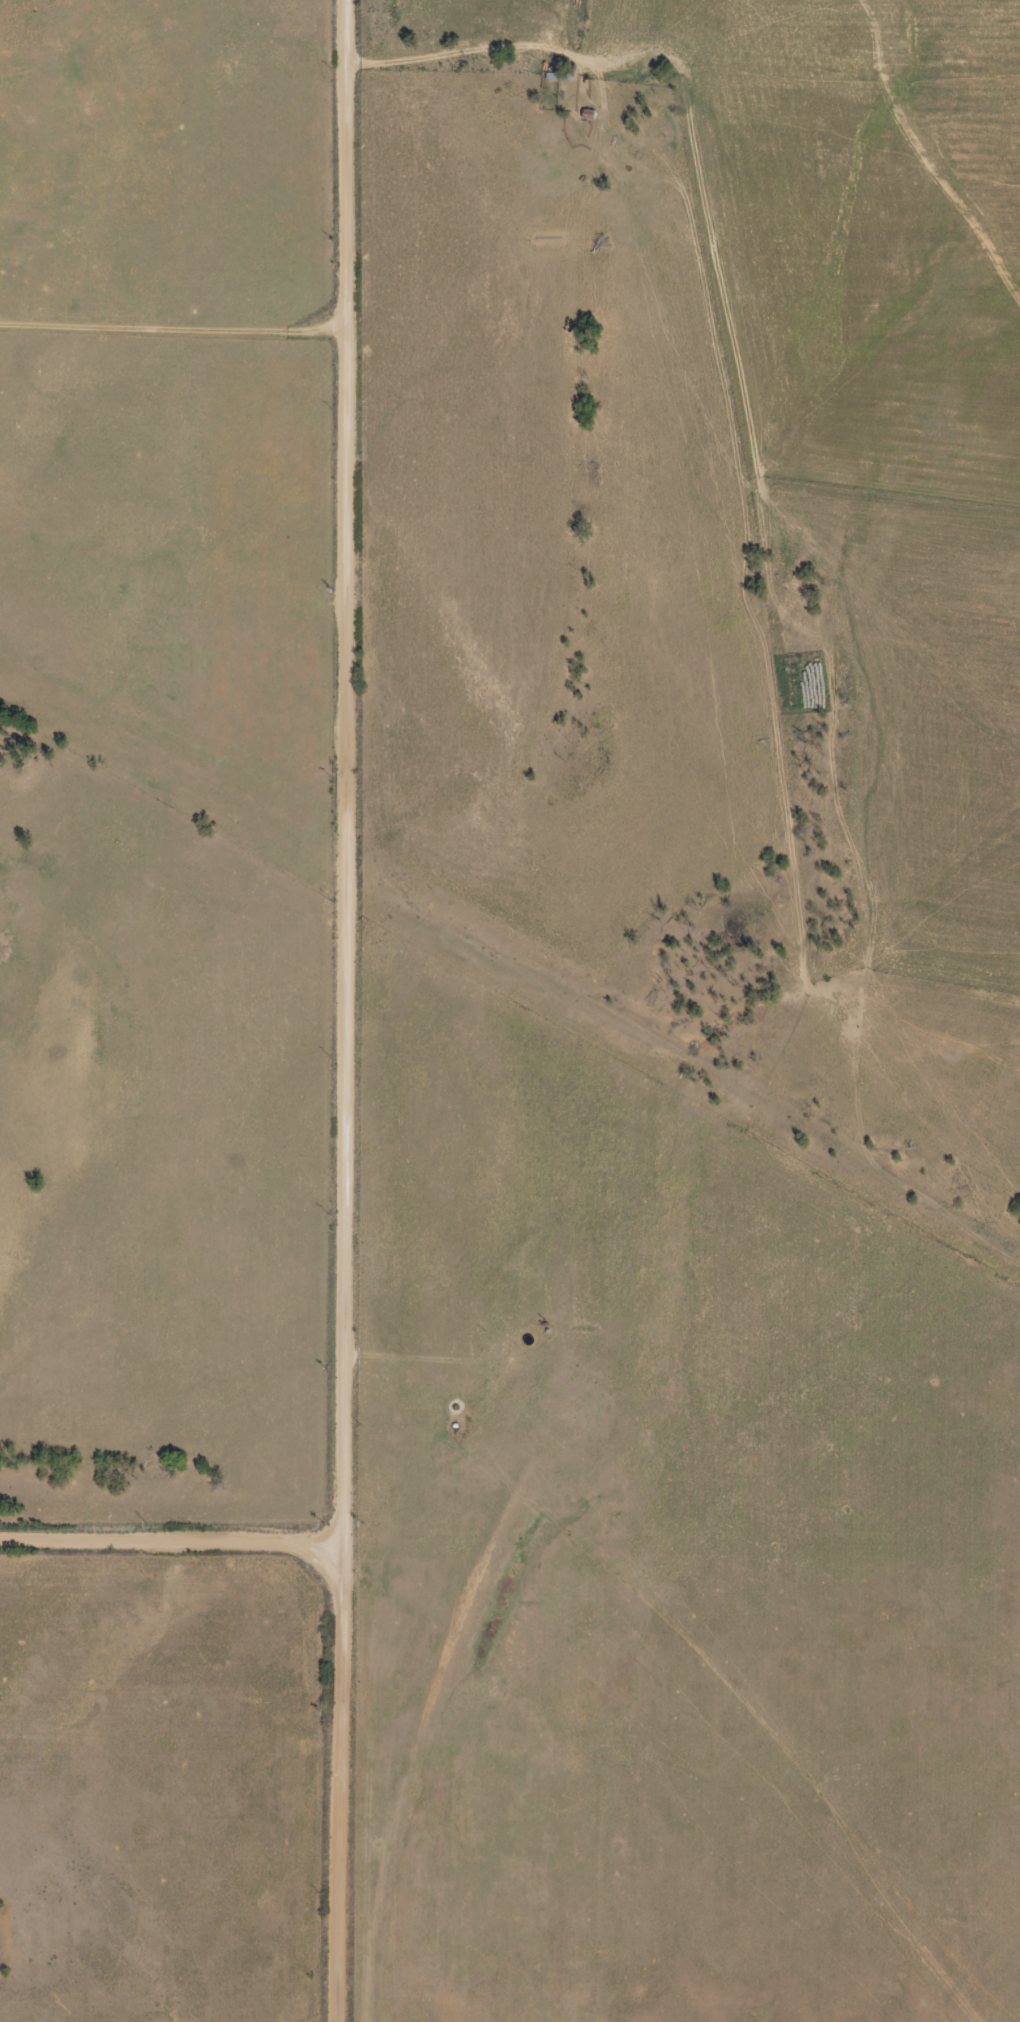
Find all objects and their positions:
building: (557, 75)
road: (343, 1010)
road: (170, 1537)

